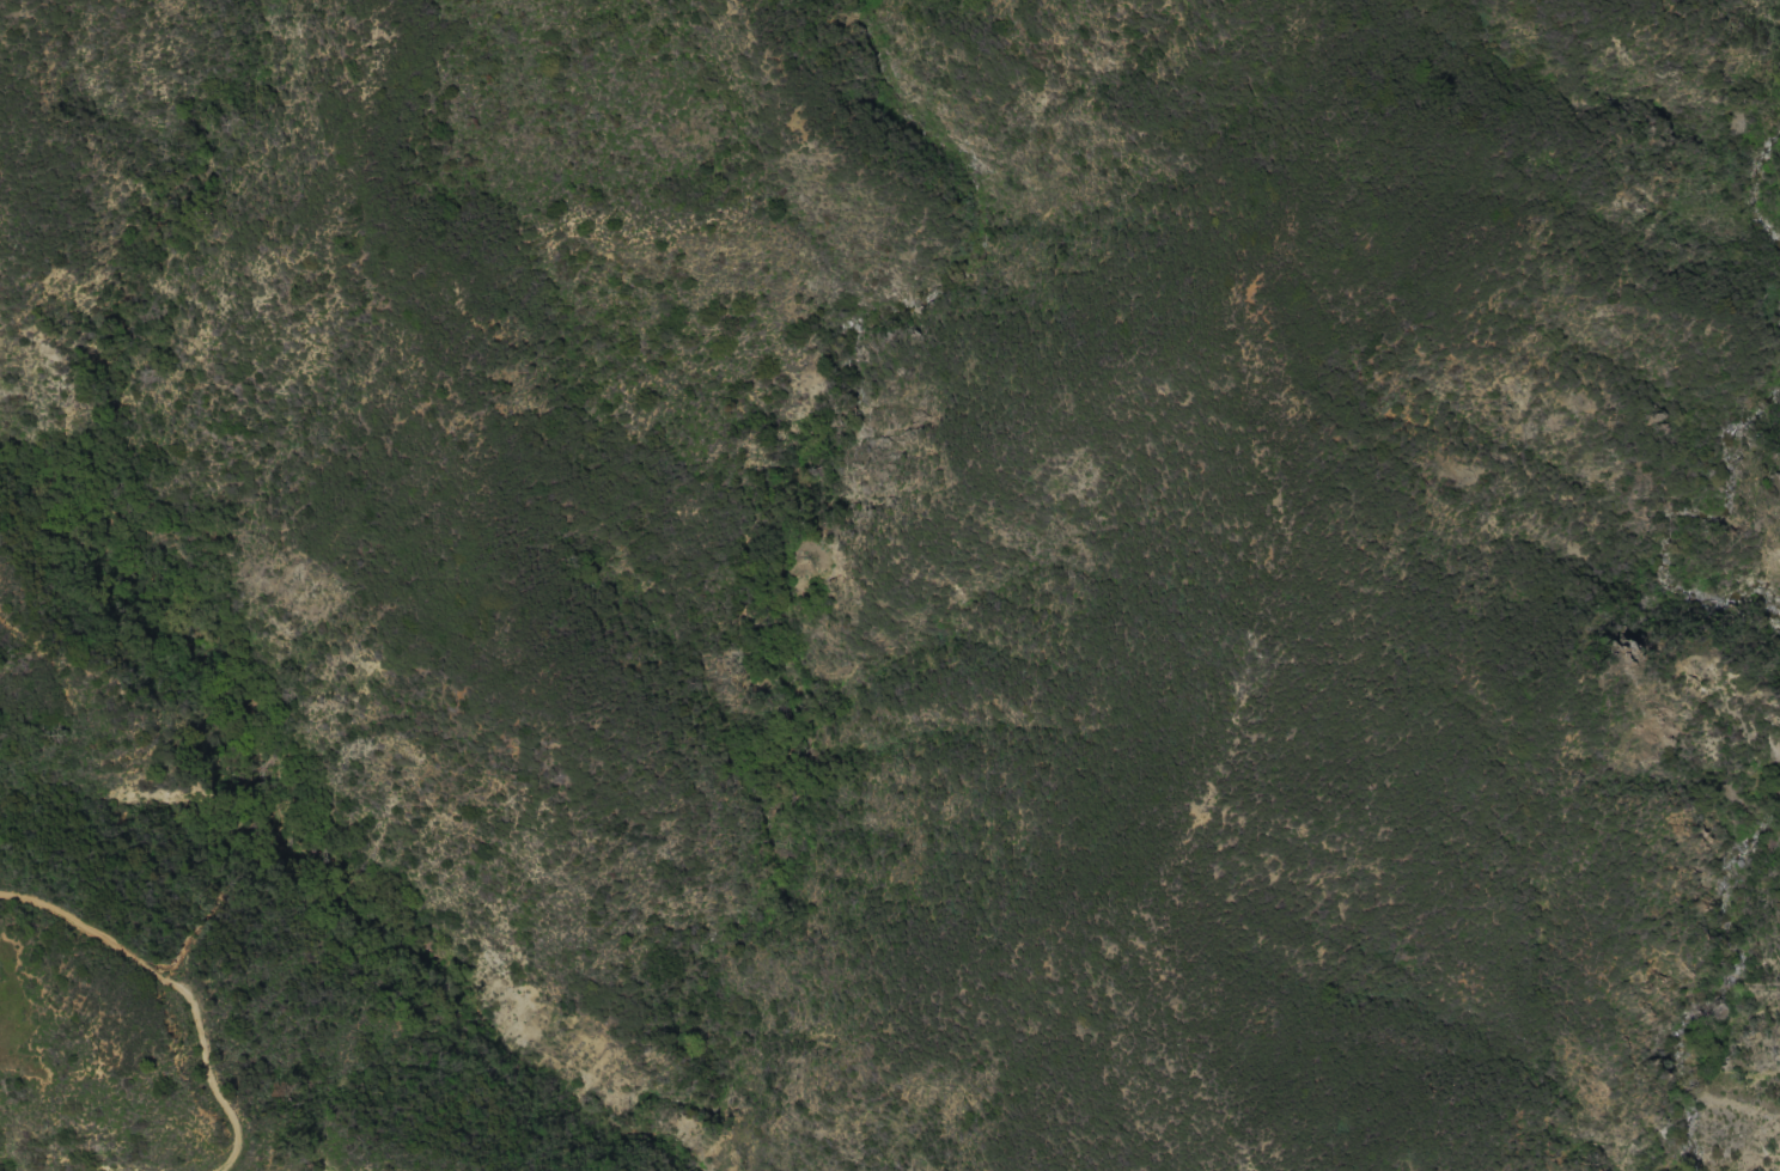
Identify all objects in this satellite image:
road: (179, 988)

